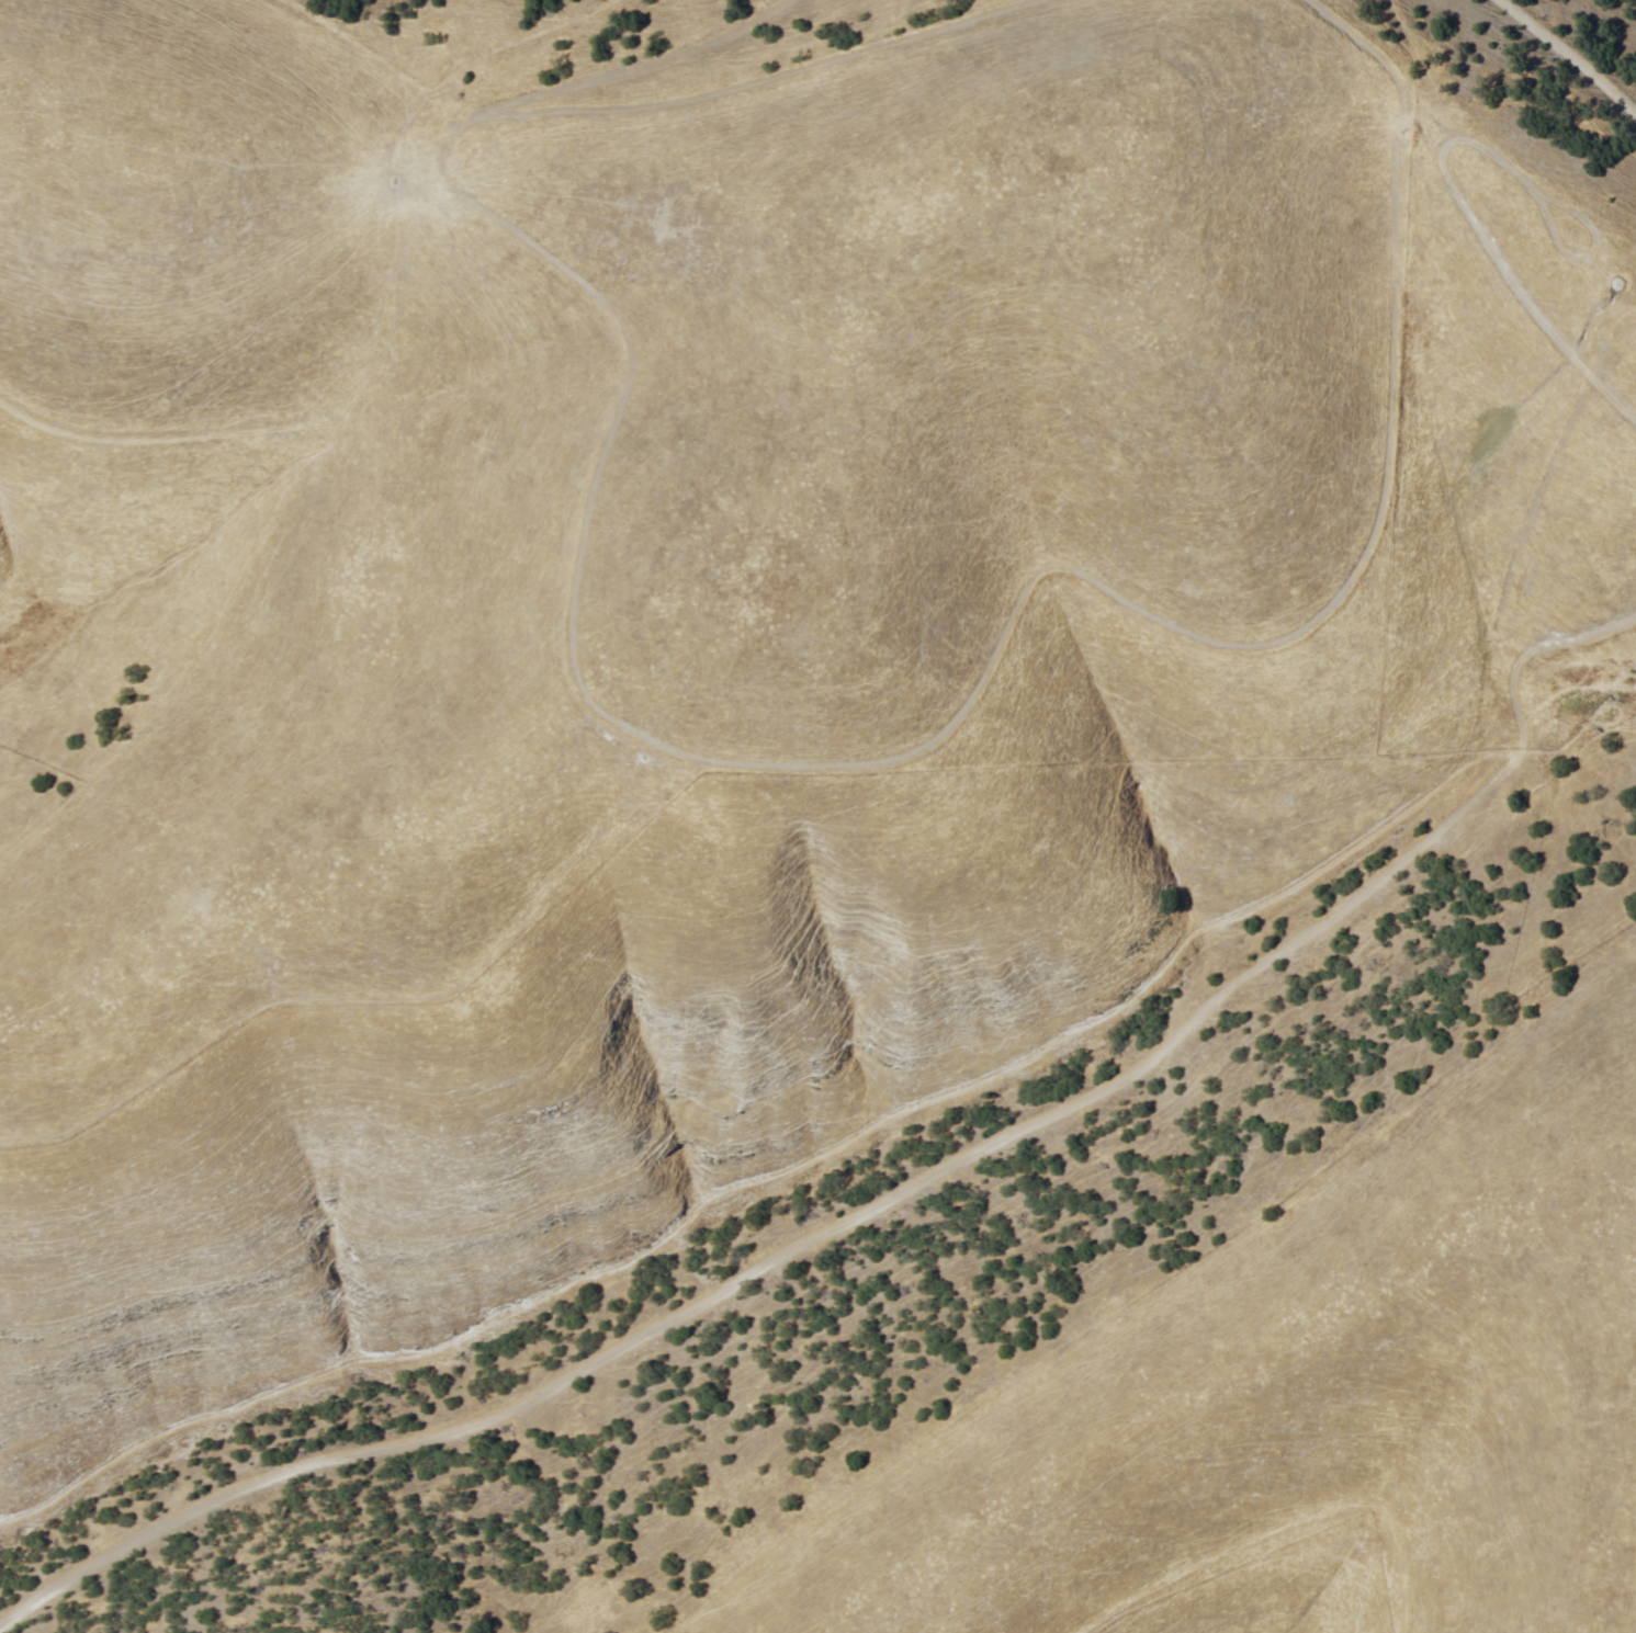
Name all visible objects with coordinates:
road: (1227, 5)
road: (1573, 53)
road: (540, 98)
road: (890, 1188)

